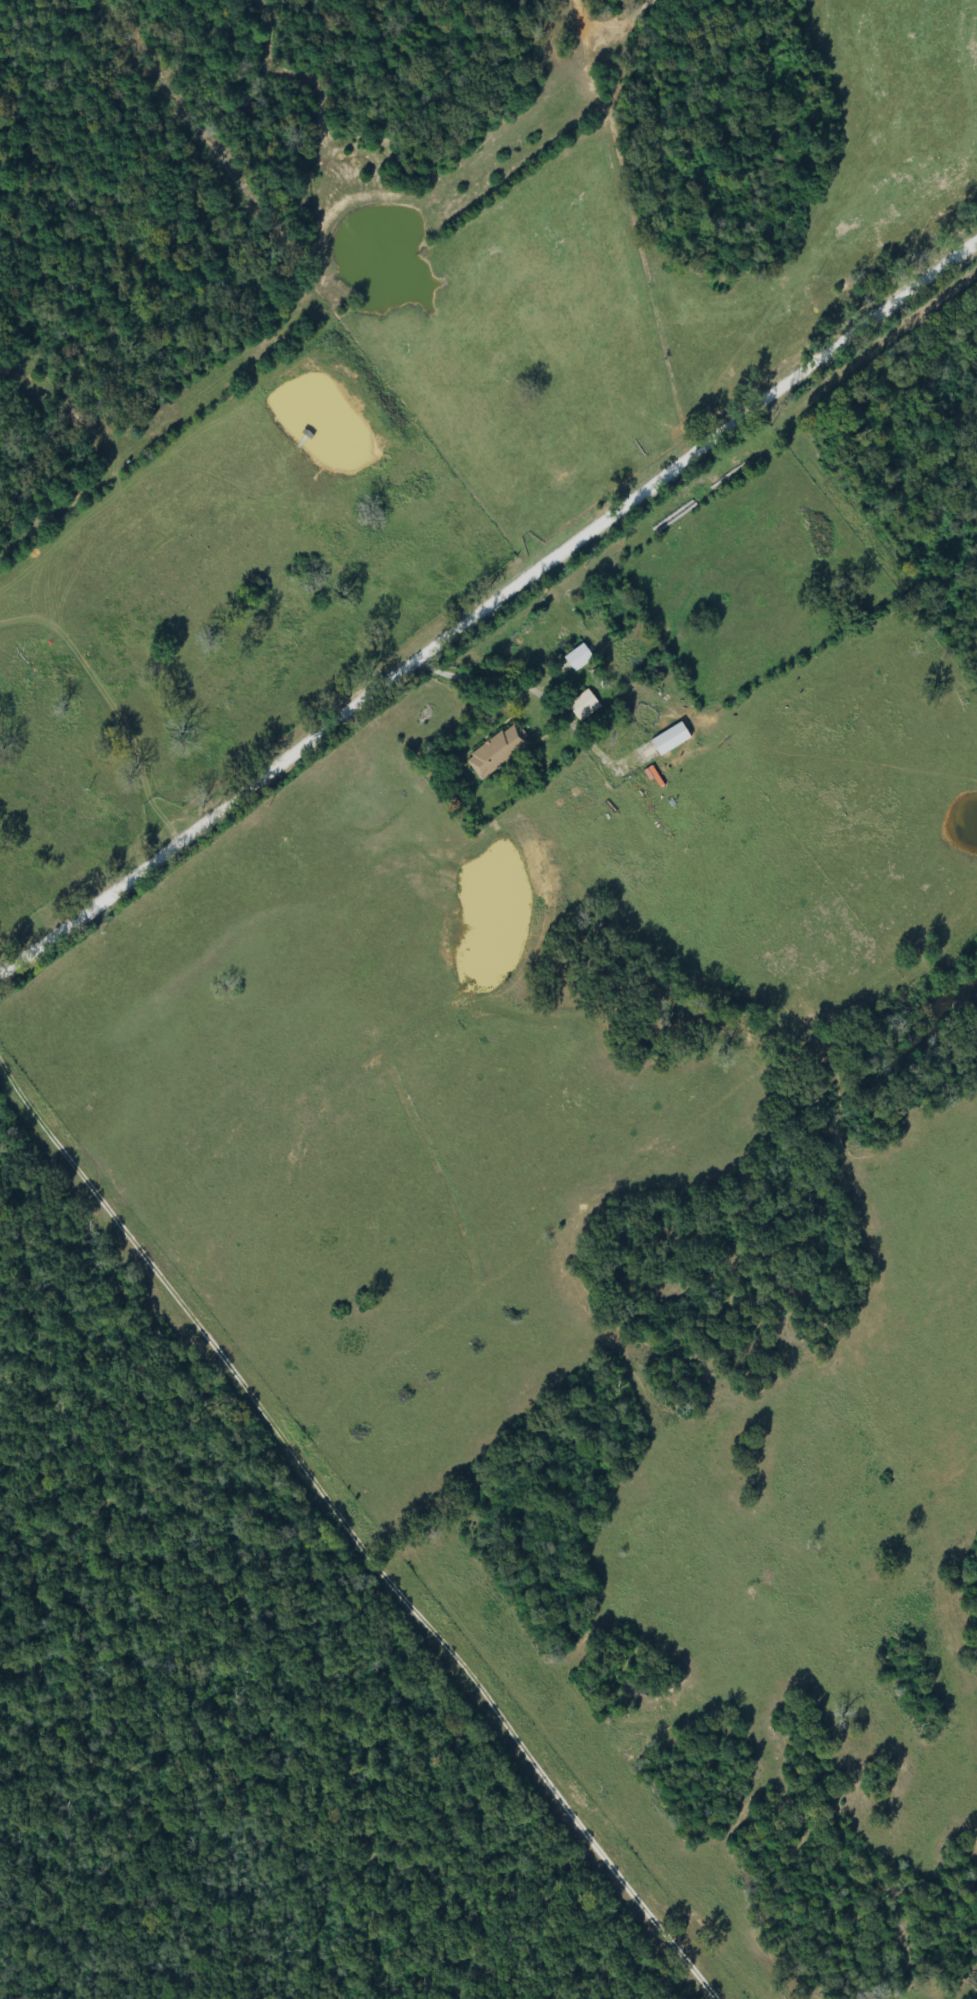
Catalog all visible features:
road: (886, 313)
road: (557, 567)
building: (580, 658)
building: (586, 706)
building: (673, 739)
building: (499, 752)

